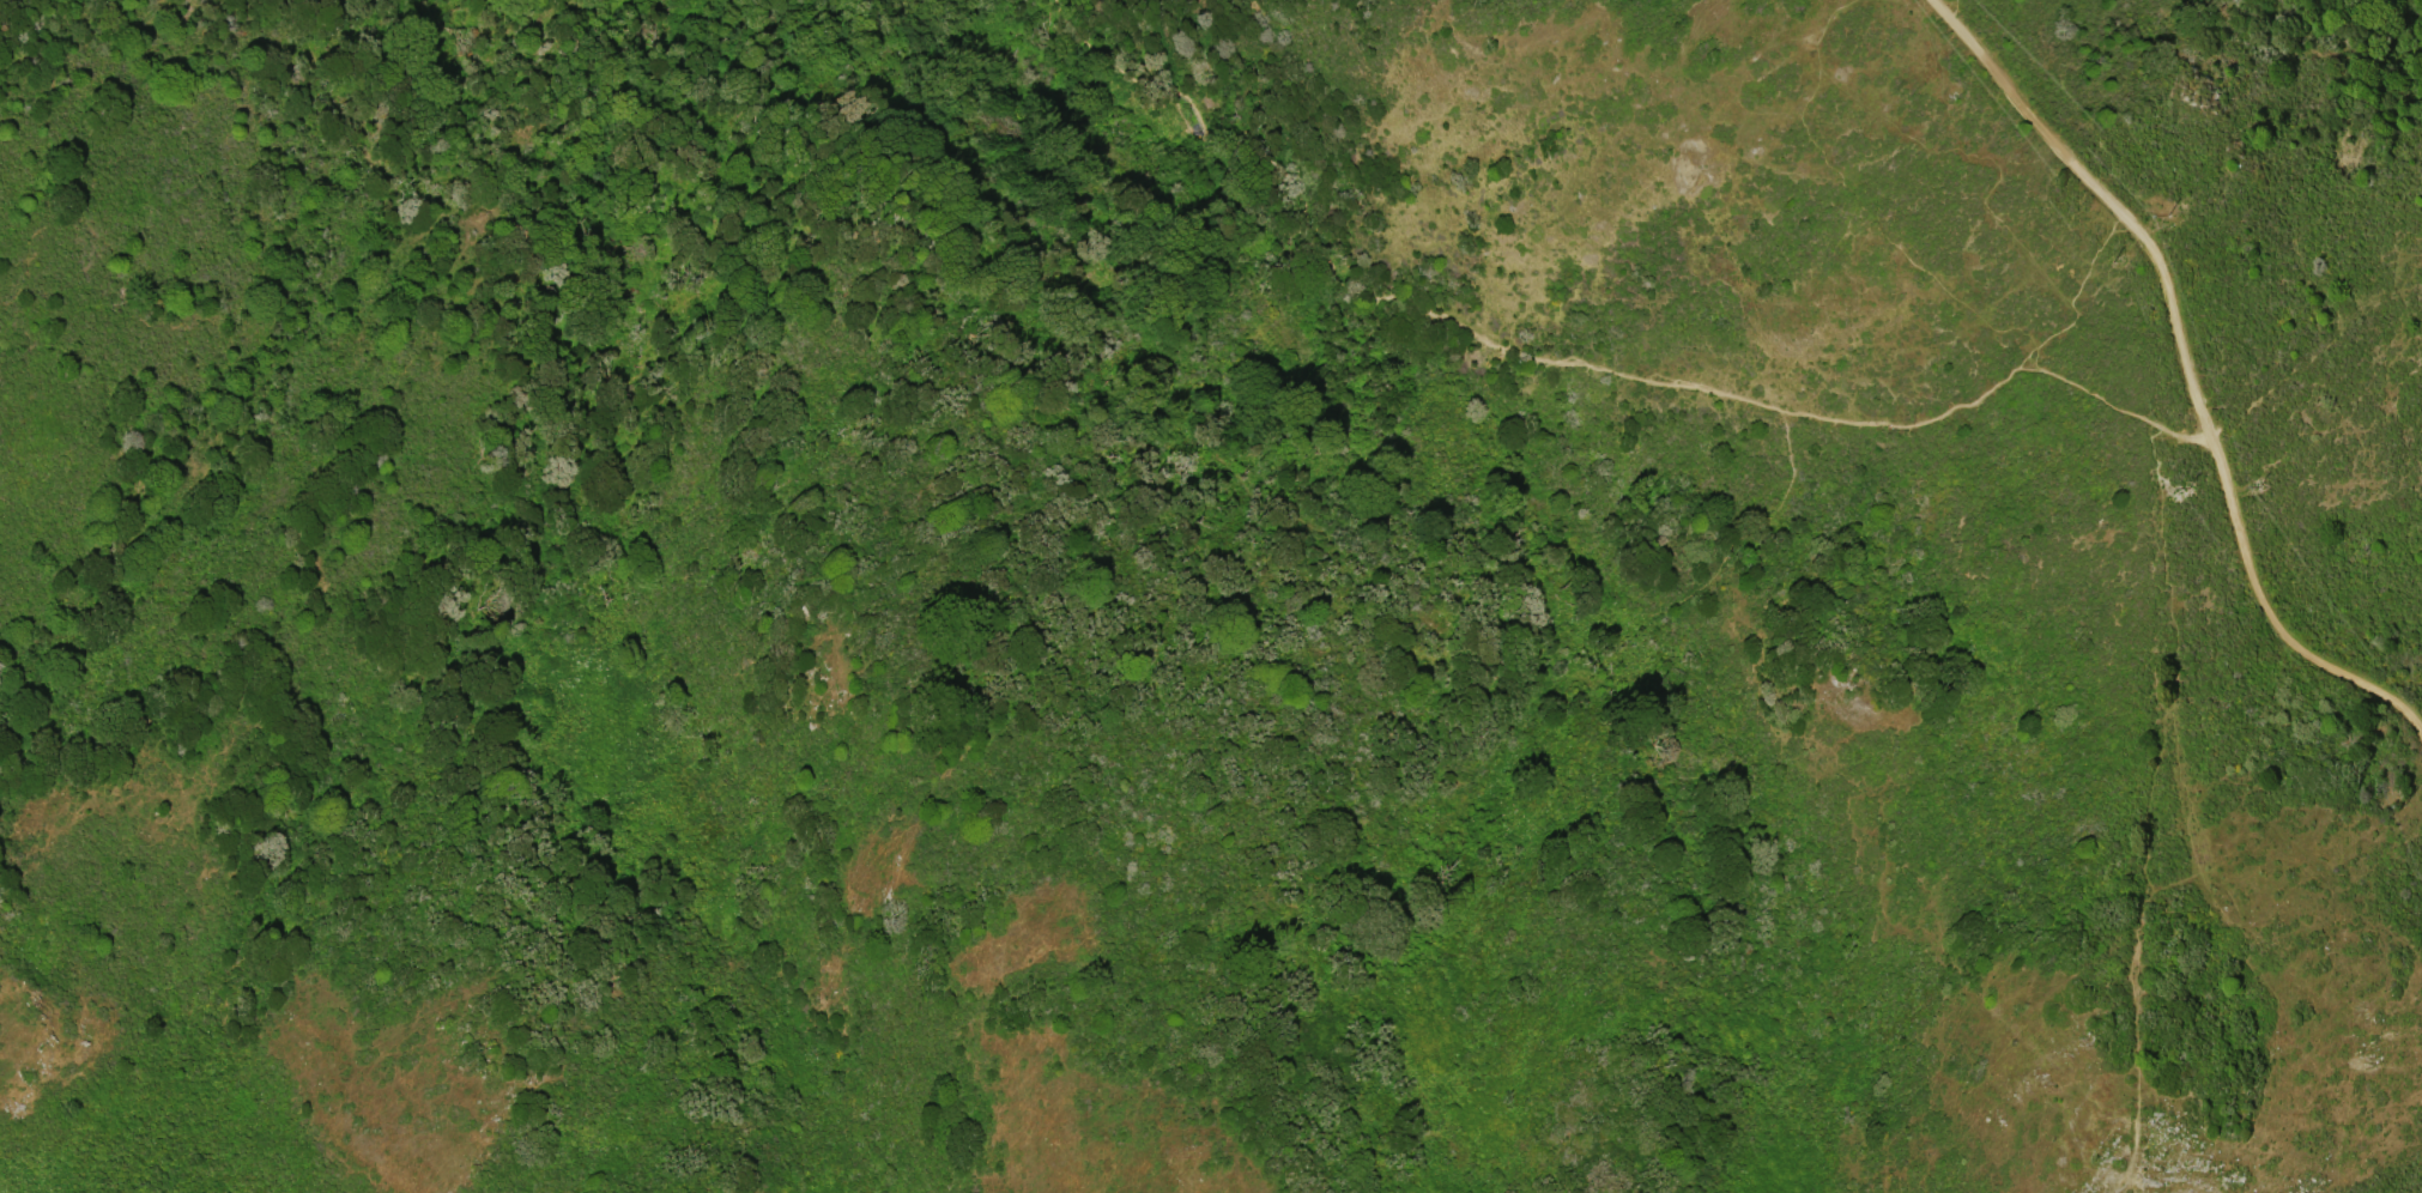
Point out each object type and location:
power tower: (1113, 275)
road: (1581, 365)
road: (2187, 370)
power tower: (1435, 629)

